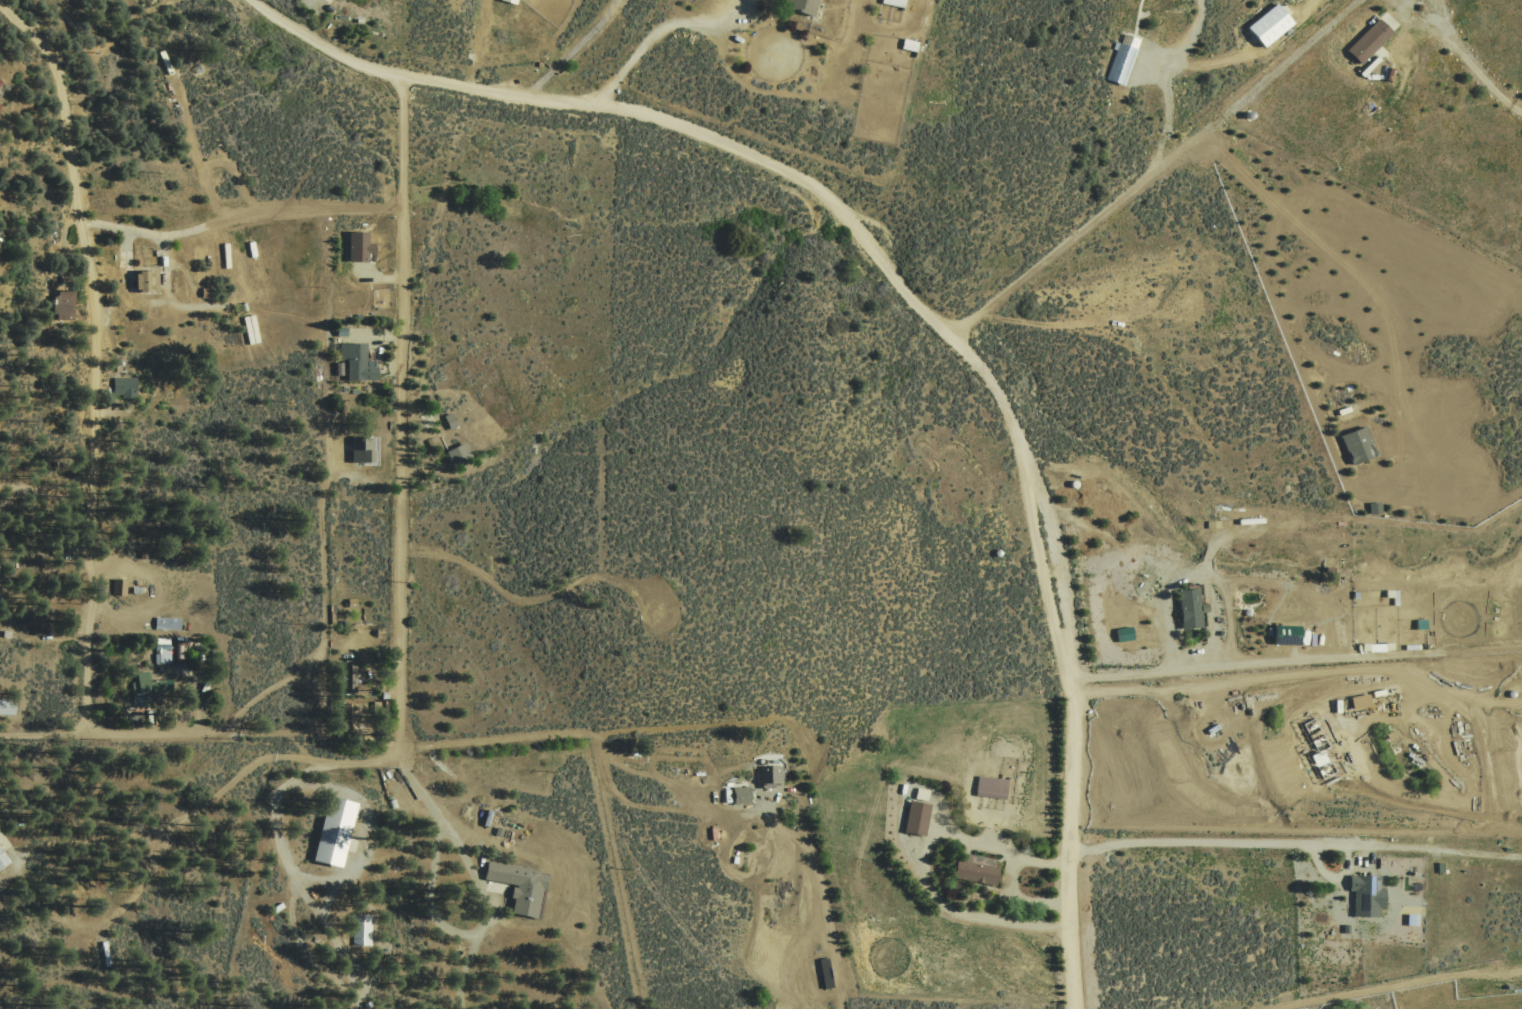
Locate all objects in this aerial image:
building: (515, 1)
building: (896, 3)
building: (806, 7)
building: (1267, 26)
road: (1444, 26)
road: (659, 33)
building: (1368, 42)
building: (913, 46)
road: (574, 49)
road: (1254, 55)
road: (1459, 56)
road: (1291, 58)
building: (1120, 59)
road: (1165, 82)
building: (4, 93)
road: (805, 100)
road: (1084, 224)
building: (365, 247)
road: (376, 279)
building: (143, 280)
road: (914, 300)
building: (60, 303)
road: (97, 354)
building: (360, 363)
building: (122, 385)
road: (401, 415)
building: (453, 421)
road: (1403, 437)
building: (1354, 447)
building: (366, 450)
building: (462, 454)
building: (1370, 507)
building: (117, 585)
road: (1165, 600)
road: (324, 603)
building: (1190, 606)
building: (35, 617)
building: (165, 622)
building: (1285, 634)
building: (160, 649)
road: (1343, 656)
building: (346, 676)
building: (142, 683)
building: (1359, 699)
building: (5, 705)
road: (676, 728)
road: (207, 731)
road: (48, 734)
building: (771, 775)
building: (995, 788)
building: (743, 796)
road: (208, 801)
road: (674, 812)
building: (920, 820)
building: (332, 829)
road: (1248, 844)
road: (1427, 850)
road: (284, 854)
building: (2, 858)
road: (926, 861)
building: (979, 871)
building: (518, 885)
road: (1019, 896)
building: (1365, 896)
road: (492, 913)
building: (360, 928)
road: (1402, 985)

